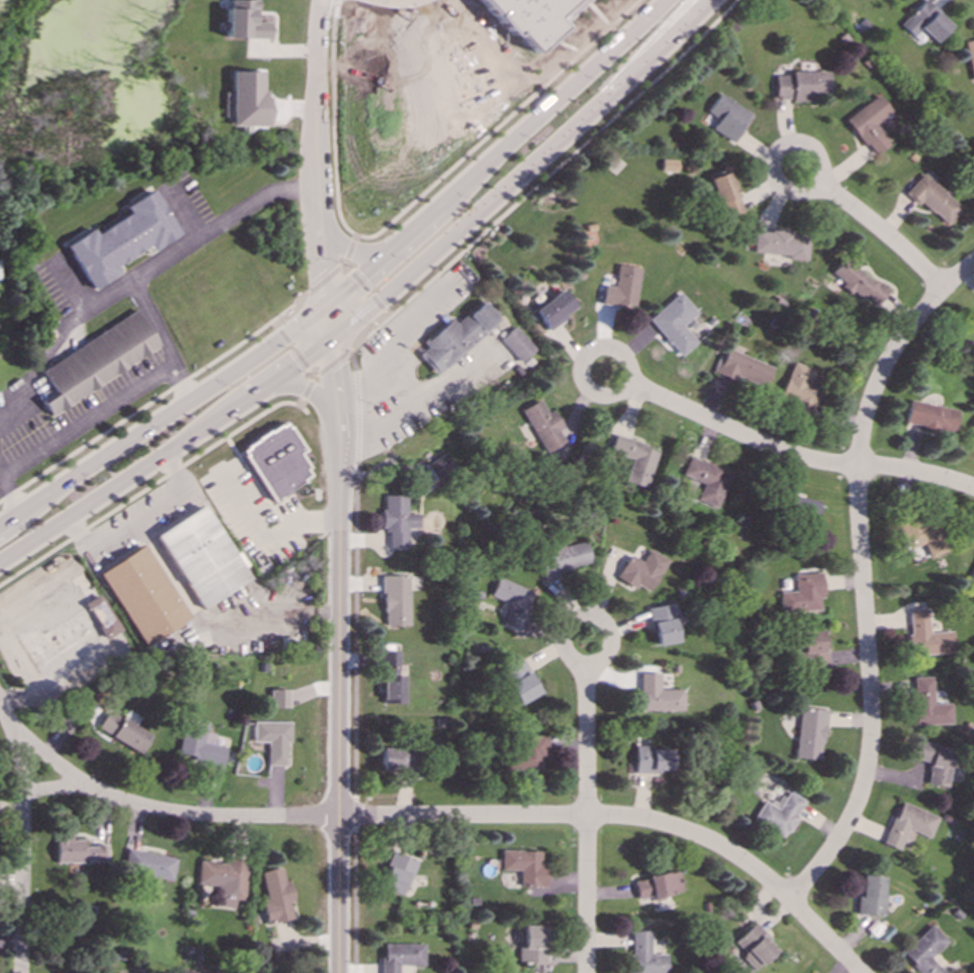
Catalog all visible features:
road: (336, 2)
building: (535, 19)
building: (244, 21)
building: (926, 22)
building: (971, 56)
road: (334, 64)
building: (802, 86)
building: (249, 100)
road: (320, 109)
building: (729, 118)
road: (499, 123)
building: (870, 125)
road: (789, 147)
road: (498, 154)
building: (668, 166)
road: (523, 169)
road: (544, 178)
road: (336, 183)
building: (726, 195)
building: (933, 199)
road: (258, 202)
road: (884, 233)
building: (121, 240)
building: (782, 243)
road: (348, 245)
road: (350, 247)
road: (325, 261)
road: (345, 264)
road: (347, 267)
road: (133, 281)
road: (324, 281)
building: (860, 283)
building: (623, 288)
road: (368, 293)
traffic signals: (330, 304)
building: (554, 310)
road: (331, 318)
building: (972, 321)
building: (675, 324)
traffic signals: (333, 333)
road: (394, 337)
building: (455, 337)
road: (66, 343)
building: (518, 345)
road: (293, 349)
road: (591, 353)
building: (97, 360)
road: (352, 361)
road: (332, 365)
building: (743, 368)
road: (336, 374)
road: (300, 383)
road: (307, 387)
building: (800, 390)
road: (155, 400)
road: (420, 401)
road: (358, 416)
road: (167, 417)
building: (931, 417)
road: (90, 419)
building: (544, 426)
building: (972, 433)
road: (740, 434)
road: (169, 452)
building: (635, 460)
building: (276, 461)
building: (432, 472)
road: (917, 472)
building: (708, 480)
road: (151, 486)
road: (11, 489)
building: (802, 509)
building: (397, 520)
road: (137, 523)
road: (263, 535)
building: (923, 536)
building: (202, 556)
building: (563, 557)
building: (643, 571)
road: (864, 574)
building: (972, 575)
building: (804, 594)
building: (143, 595)
building: (396, 601)
building: (514, 602)
road: (598, 619)
building: (665, 623)
road: (356, 631)
building: (69, 632)
building: (927, 637)
building: (813, 650)
building: (392, 679)
building: (521, 682)
road: (339, 694)
building: (659, 695)
building: (279, 699)
building: (929, 705)
building: (124, 730)
building: (811, 734)
building: (274, 740)
road: (588, 741)
building: (200, 743)
building: (528, 754)
building: (396, 760)
building: (654, 760)
road: (356, 814)
building: (780, 814)
road: (441, 816)
building: (910, 825)
road: (22, 844)
building: (78, 852)
building: (149, 865)
building: (526, 867)
building: (398, 873)
building: (224, 881)
building: (659, 886)
road: (589, 894)
building: (873, 896)
building: (277, 897)
road: (356, 900)
building: (534, 946)
building: (757, 947)
building: (926, 951)
building: (646, 955)
building: (402, 957)

